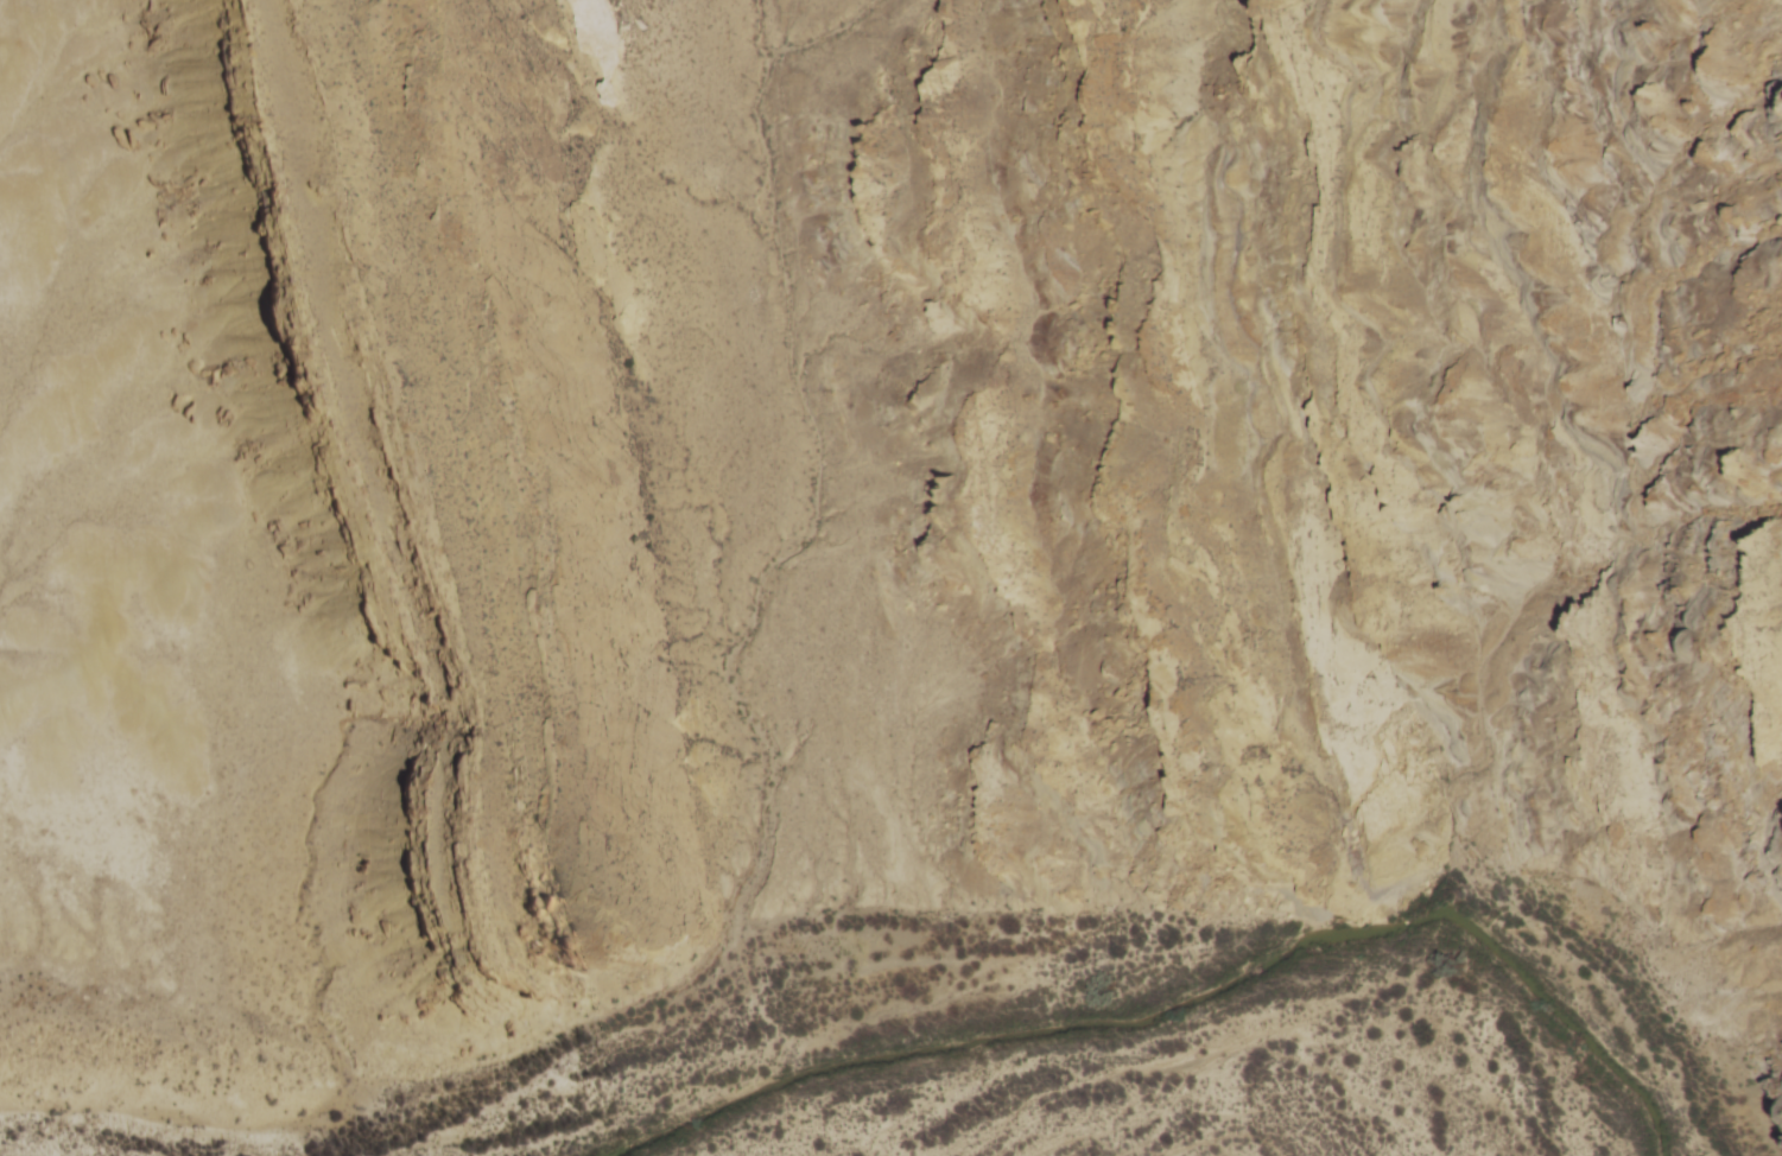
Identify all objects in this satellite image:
river: (1211, 1003)

